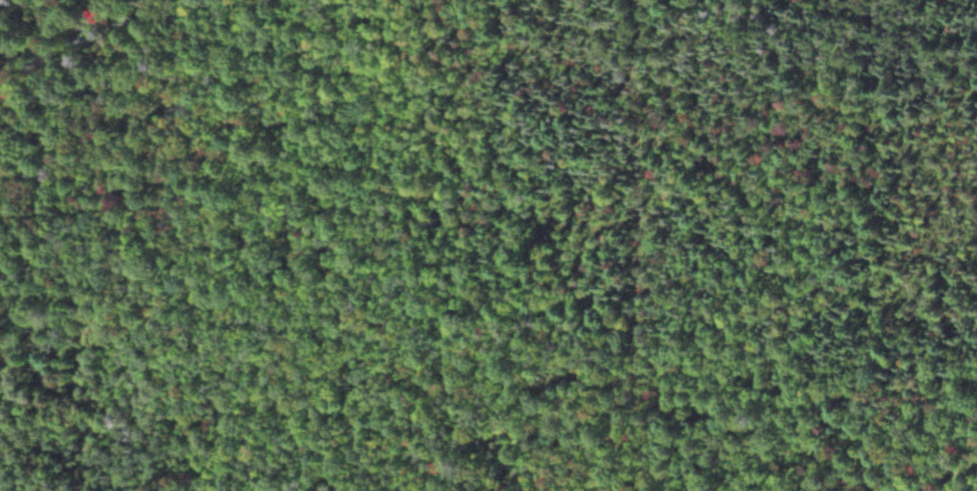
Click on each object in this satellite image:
road: (629, 245)

